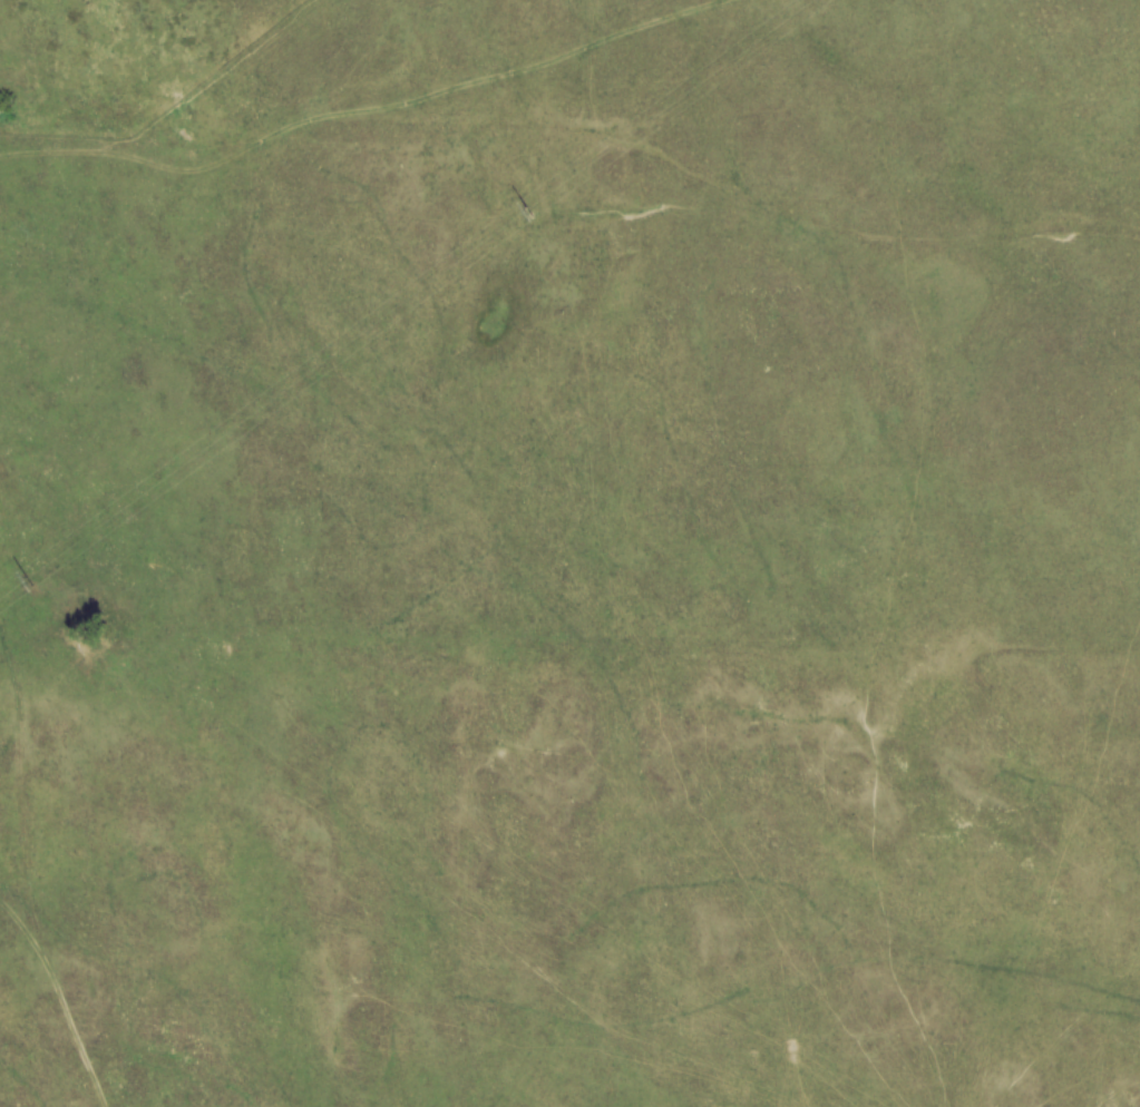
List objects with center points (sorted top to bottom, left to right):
power tower: (530, 212)
power tower: (31, 581)

